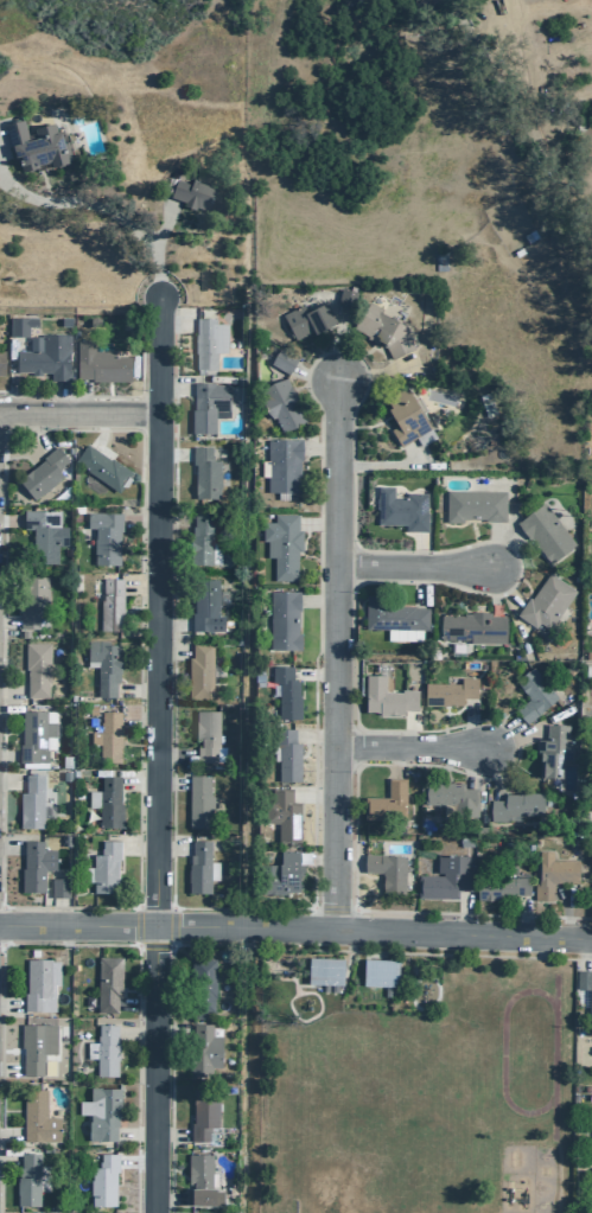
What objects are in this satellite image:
building: (362, 4)
road: (522, 87)
building: (32, 146)
building: (172, 175)
road: (43, 185)
building: (190, 194)
road: (102, 209)
road: (160, 228)
building: (439, 261)
building: (344, 299)
road: (174, 320)
building: (306, 320)
building: (64, 321)
building: (19, 326)
building: (382, 331)
building: (208, 343)
road: (332, 351)
building: (44, 357)
building: (1, 362)
building: (281, 362)
building: (98, 364)
road: (312, 370)
road: (370, 371)
building: (238, 381)
road: (172, 385)
street lamp: (142, 389)
road: (81, 394)
road: (58, 396)
road: (106, 396)
road: (357, 401)
building: (280, 406)
building: (206, 407)
building: (485, 407)
road: (77, 408)
building: (406, 420)
road: (103, 429)
road: (129, 429)
road: (38, 430)
road: (317, 449)
road: (172, 454)
building: (281, 465)
road: (384, 465)
building: (101, 468)
building: (204, 473)
building: (42, 474)
building: (475, 506)
building: (401, 510)
road: (11, 519)
road: (172, 519)
road: (139, 523)
road: (314, 523)
building: (543, 534)
building: (44, 535)
building: (103, 537)
building: (199, 543)
building: (281, 544)
road: (490, 545)
road: (416, 549)
road: (502, 550)
road: (409, 562)
street lamp: (141, 573)
road: (139, 582)
road: (419, 583)
road: (501, 586)
road: (490, 588)
building: (33, 601)
road: (316, 601)
building: (545, 601)
building: (109, 606)
building: (204, 607)
building: (392, 615)
road: (7, 621)
building: (282, 621)
road: (172, 625)
building: (470, 627)
road: (332, 646)
road: (172, 650)
building: (103, 665)
building: (36, 669)
building: (198, 671)
road: (312, 673)
road: (12, 690)
road: (135, 690)
building: (447, 691)
building: (285, 692)
building: (531, 695)
building: (384, 697)
road: (138, 714)
road: (469, 724)
road: (409, 728)
road: (498, 733)
road: (313, 734)
building: (34, 735)
building: (108, 735)
building: (206, 736)
road: (513, 739)
road: (407, 746)
building: (553, 751)
road: (8, 754)
road: (155, 754)
building: (286, 754)
road: (174, 755)
road: (394, 760)
road: (473, 765)
road: (492, 771)
road: (11, 780)
road: (138, 780)
road: (168, 781)
road: (312, 794)
building: (590, 794)
building: (450, 796)
building: (197, 800)
building: (386, 800)
building: (30, 802)
building: (108, 802)
building: (515, 804)
building: (282, 815)
building: (464, 841)
road: (9, 845)
road: (136, 845)
road: (171, 845)
road: (314, 858)
road: (346, 862)
building: (33, 864)
building: (103, 866)
building: (197, 867)
building: (386, 869)
building: (279, 873)
building: (552, 875)
building: (443, 879)
building: (499, 886)
building: (57, 887)
street lamp: (139, 896)
road: (566, 908)
road: (58, 909)
street lamp: (308, 911)
road: (463, 911)
road: (523, 914)
road: (295, 922)
road: (171, 925)
road: (135, 926)
road: (248, 946)
road: (153, 947)
road: (581, 951)
building: (323, 969)
building: (378, 971)
road: (136, 981)
building: (106, 982)
building: (38, 983)
building: (200, 985)
building: (323, 987)
building: (585, 987)
building: (331, 988)
building: (386, 991)
road: (134, 1004)
road: (9, 1008)
road: (170, 1030)
road: (134, 1033)
building: (34, 1045)
building: (102, 1048)
building: (202, 1049)
track: (526, 1052)
road: (553, 1090)
building: (98, 1112)
building: (200, 1112)
building: (36, 1117)
building: (591, 1132)
road: (133, 1134)
road: (9, 1135)
road: (168, 1135)
road: (8, 1160)
road: (134, 1161)
building: (26, 1180)
building: (101, 1180)
building: (199, 1181)
park: (336, 1183)
building: (591, 1185)
road: (165, 1199)
building: (591, 1200)

